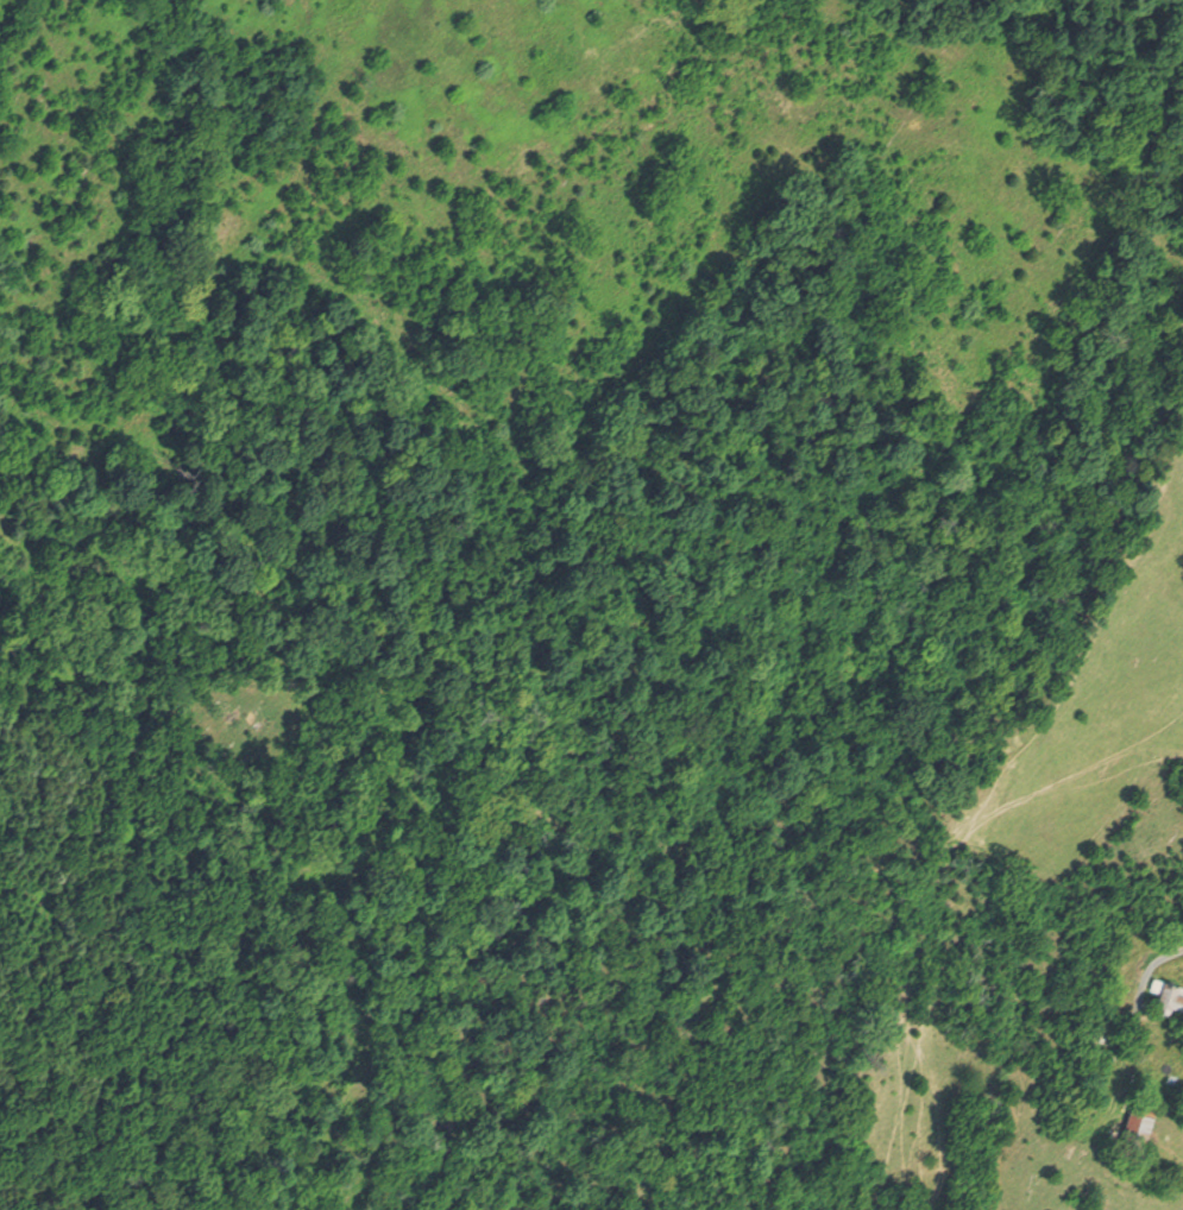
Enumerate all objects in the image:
road: (1175, 956)

